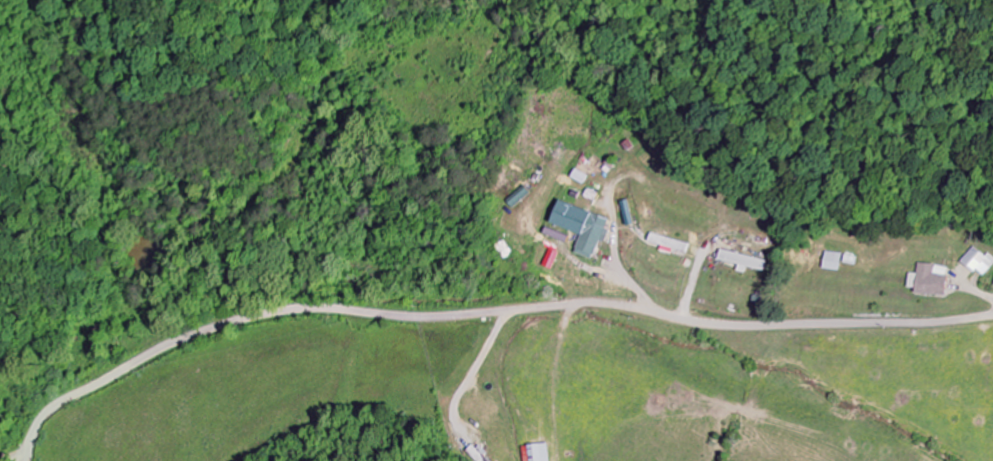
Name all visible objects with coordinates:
building: (588, 229)
building: (556, 260)
building: (744, 262)
building: (977, 262)
building: (925, 281)
road: (485, 314)
building: (539, 452)

